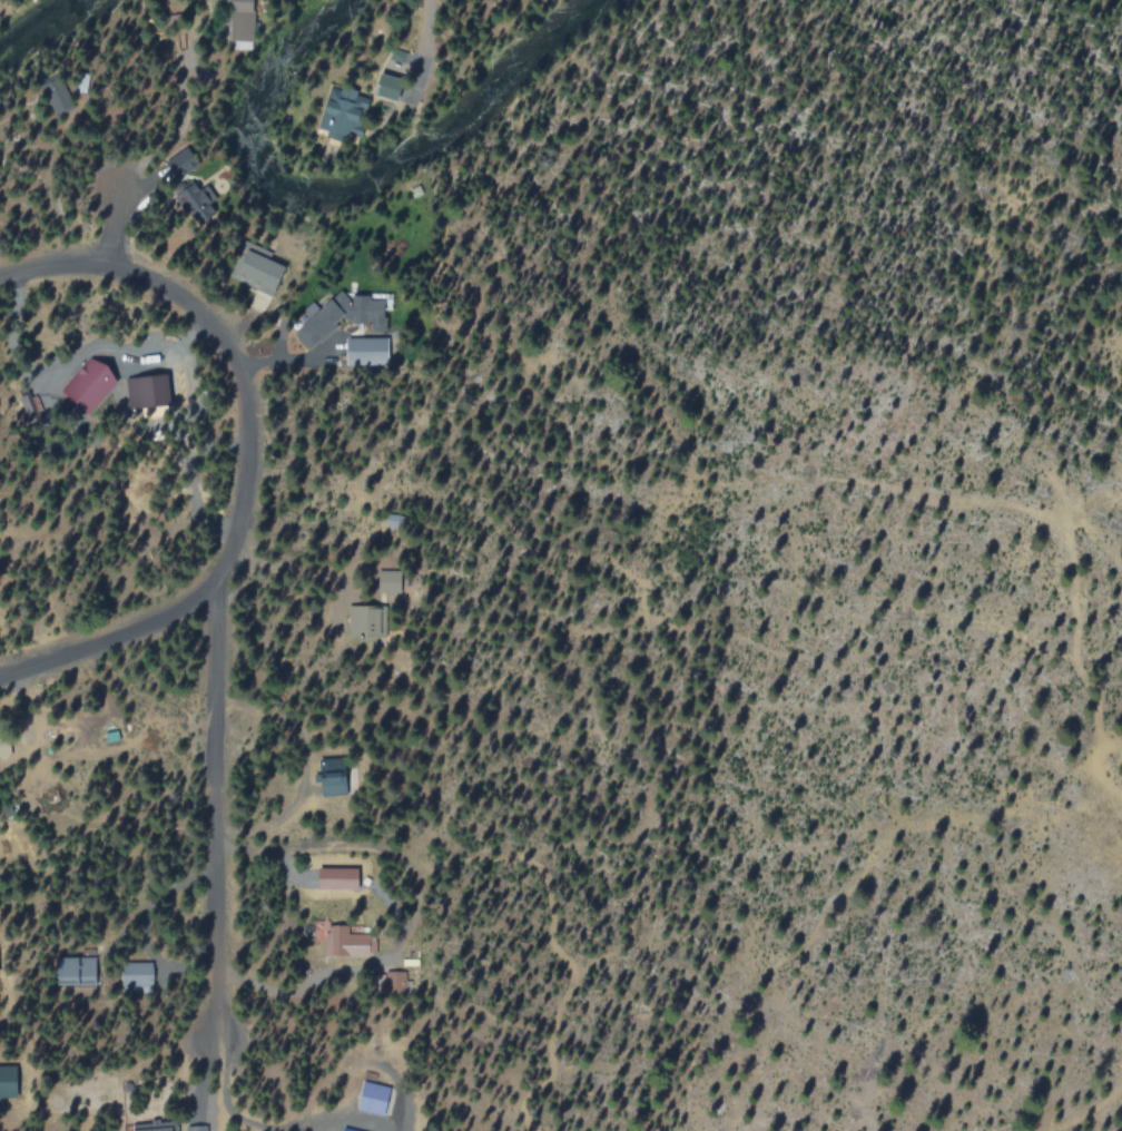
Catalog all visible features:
river: (37, 21)
building: (388, 86)
building: (343, 112)
river: (355, 175)
road: (115, 227)
building: (259, 271)
road: (220, 342)
building: (367, 350)
building: (90, 387)
building: (390, 580)
building: (367, 620)
road: (114, 639)
building: (335, 785)
road: (216, 808)
building: (338, 878)
building: (344, 940)
building: (77, 971)
building: (138, 976)
building: (388, 982)
building: (9, 1090)
building: (374, 1098)
building: (197, 1128)
building: (155, 1129)
building: (348, 1129)

